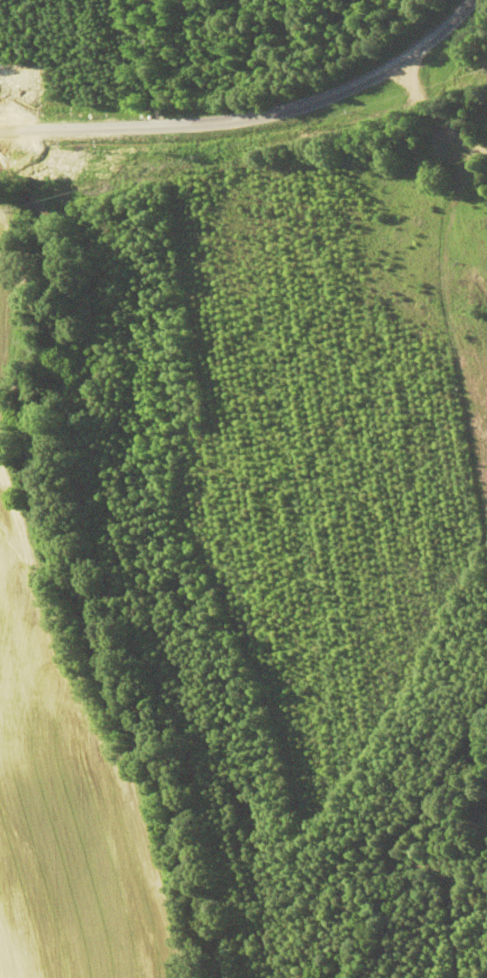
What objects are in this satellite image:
road: (128, 61)
road: (246, 111)

